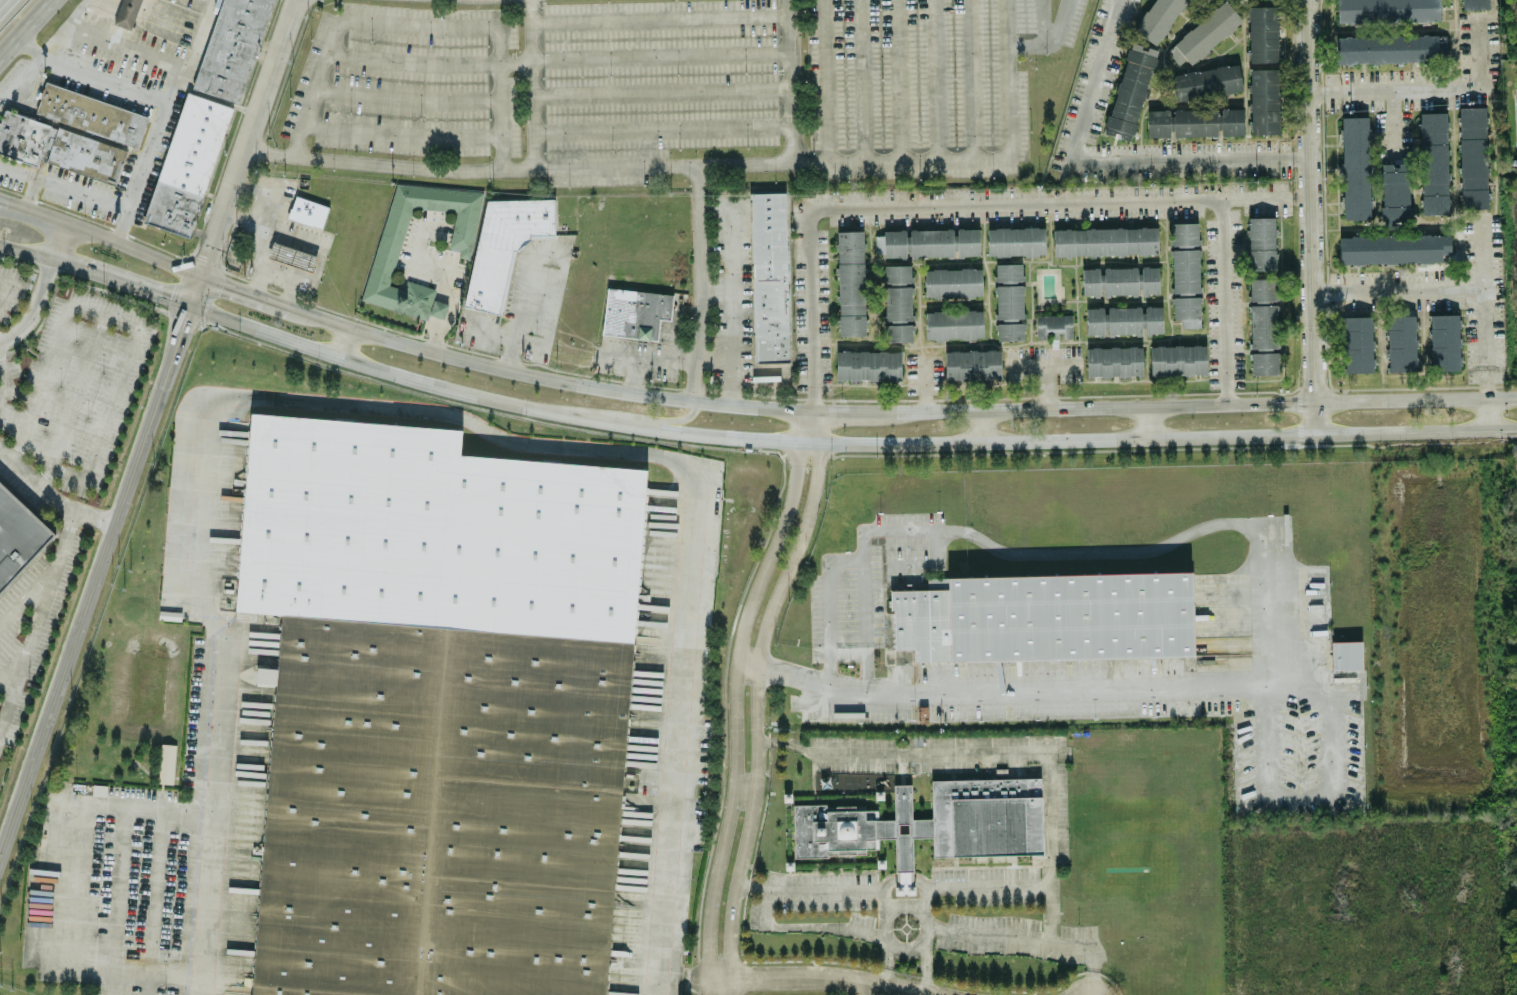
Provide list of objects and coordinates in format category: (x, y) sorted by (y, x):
road: (778, 3)
building: (1474, 4)
building: (1387, 10)
building: (124, 13)
road: (660, 17)
building: (1157, 18)
road: (1041, 22)
road: (416, 26)
road: (1060, 26)
road: (27, 29)
building: (1204, 33)
building: (1263, 33)
road: (1025, 46)
building: (1391, 48)
road: (122, 49)
building: (230, 49)
road: (42, 50)
road: (1481, 50)
road: (662, 53)
road: (411, 62)
road: (514, 62)
road: (90, 76)
road: (1010, 77)
road: (937, 78)
road: (973, 78)
road: (862, 79)
road: (899, 79)
road: (795, 80)
road: (824, 80)
building: (1206, 81)
road: (530, 83)
parking lot: (672, 86)
road: (663, 89)
road: (1394, 89)
building: (1130, 90)
road: (405, 99)
building: (1264, 100)
road: (167, 105)
building: (89, 115)
building: (1516, 116)
building: (1194, 121)
road: (1392, 123)
road: (664, 129)
road: (399, 134)
road: (245, 136)
building: (57, 148)
building: (1472, 156)
building: (1433, 161)
road: (1102, 163)
building: (184, 164)
road: (626, 165)
building: (1356, 167)
road: (62, 189)
road: (751, 190)
road: (27, 192)
building: (1395, 192)
road: (1, 198)
road: (958, 204)
road: (713, 206)
building: (307, 210)
road: (1309, 216)
road: (120, 226)
building: (463, 230)
road: (263, 231)
road: (100, 235)
building: (1105, 240)
building: (928, 241)
building: (1262, 242)
building: (503, 245)
building: (1394, 248)
road: (537, 253)
building: (292, 255)
road: (417, 262)
road: (57, 263)
building: (1185, 272)
traffic signals: (199, 274)
building: (1012, 274)
building: (768, 275)
road: (286, 277)
building: (1119, 280)
road: (699, 281)
building: (850, 281)
building: (953, 281)
road: (42, 286)
road: (1398, 288)
parking lot: (9, 289)
road: (193, 289)
road: (5, 291)
road: (249, 292)
road: (714, 292)
road: (151, 293)
road: (445, 295)
road: (729, 297)
road: (1222, 301)
building: (898, 302)
road: (1485, 304)
traffic signals: (188, 305)
road: (95, 312)
building: (634, 312)
building: (1123, 319)
building: (954, 323)
building: (1054, 325)
building: (1263, 325)
road: (503, 336)
road: (434, 337)
building: (1401, 341)
building: (1444, 341)
road: (345, 343)
building: (1357, 343)
road: (645, 355)
road: (713, 359)
building: (1178, 359)
building: (1114, 360)
building: (972, 363)
road: (1041, 363)
building: (868, 364)
road: (633, 373)
road: (758, 373)
road: (552, 378)
road: (1, 379)
road: (925, 382)
road: (1045, 385)
parking lot: (78, 386)
road: (19, 393)
road: (1195, 403)
road: (408, 406)
road: (843, 409)
road: (1490, 413)
road: (637, 415)
road: (1146, 421)
road: (985, 425)
road: (843, 441)
building: (1514, 456)
road: (49, 495)
building: (18, 537)
road: (989, 546)
road: (94, 577)
road: (28, 592)
building: (1045, 615)
road: (37, 618)
road: (1268, 624)
parking lot: (30, 625)
road: (864, 625)
building: (1346, 654)
road: (744, 663)
road: (8, 667)
building: (265, 675)
road: (1012, 687)
road: (731, 696)
road: (757, 697)
road: (994, 754)
building: (166, 762)
road: (743, 786)
road: (1312, 797)
building: (436, 805)
building: (921, 823)
road: (77, 877)
road: (974, 883)
road: (821, 889)
road: (924, 923)
road: (806, 925)
road: (1028, 939)
road: (886, 963)
road: (926, 967)
road: (823, 975)
road: (112, 981)
road: (149, 983)

